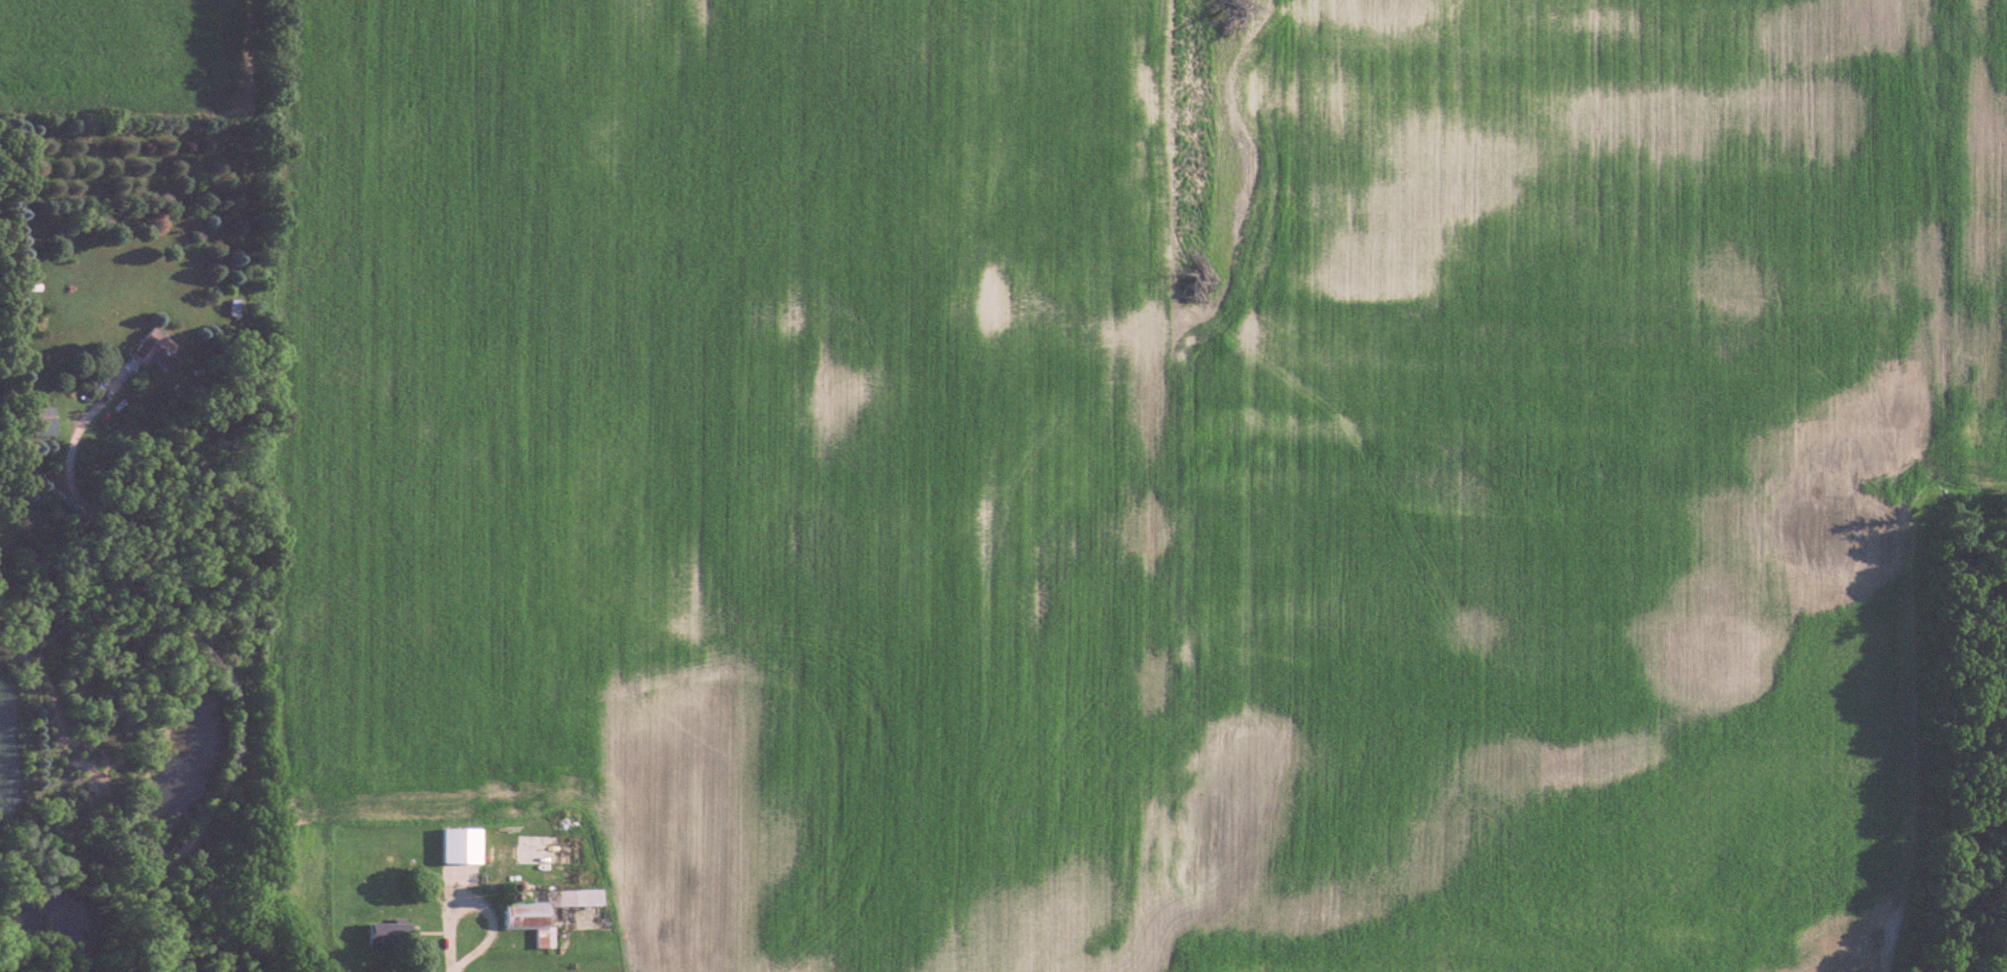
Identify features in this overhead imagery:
building: (161, 350)
building: (48, 421)
road: (195, 635)
building: (463, 845)
road: (477, 903)
building: (545, 910)
building: (394, 934)
road: (127, 944)

